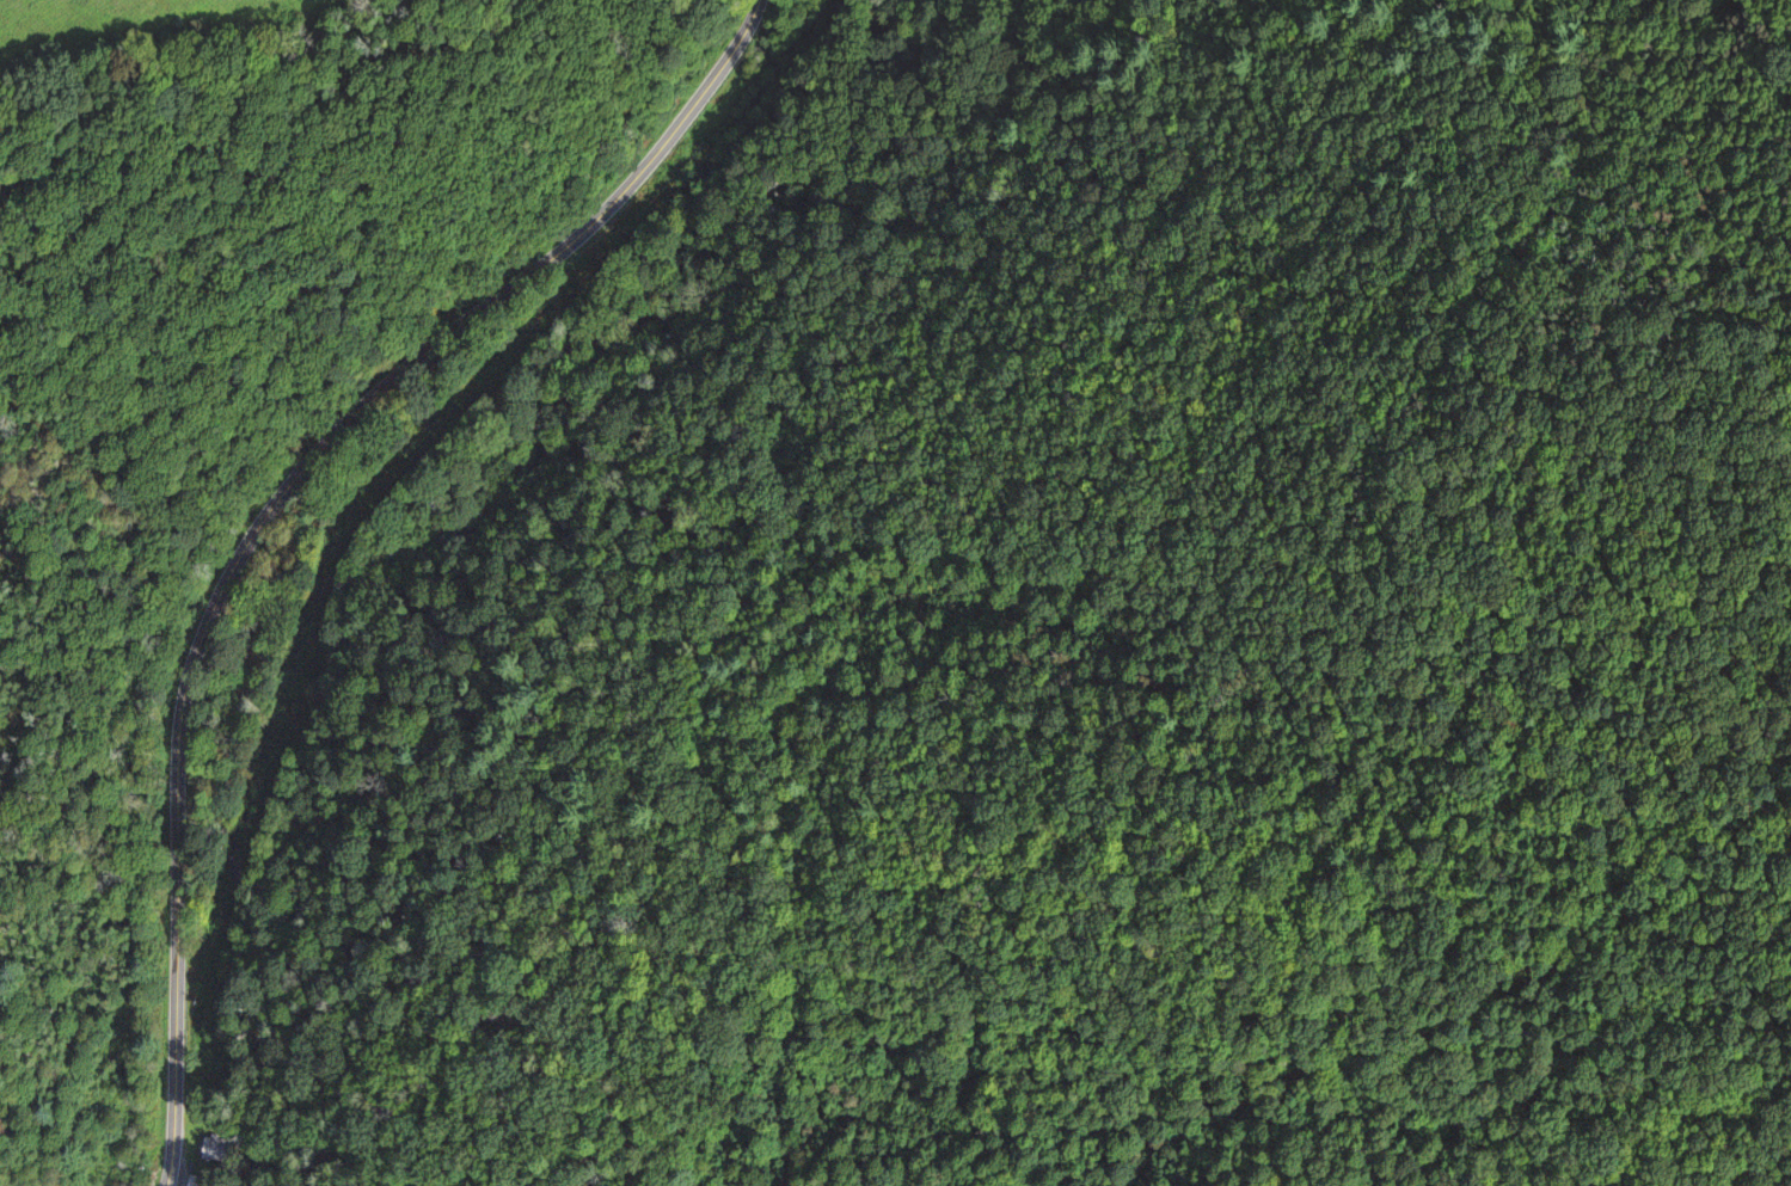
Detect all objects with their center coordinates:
road: (275, 503)

